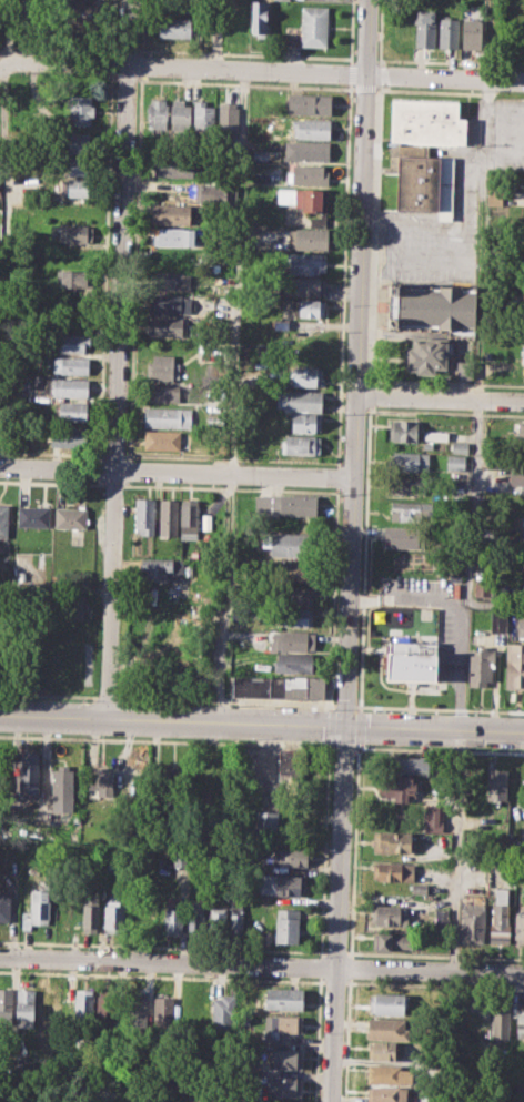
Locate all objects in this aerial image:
building: (259, 18)
building: (314, 26)
building: (175, 27)
building: (425, 28)
road: (381, 32)
building: (449, 32)
building: (472, 32)
road: (261, 70)
road: (382, 74)
building: (309, 103)
building: (81, 110)
building: (157, 113)
building: (180, 113)
building: (203, 114)
building: (228, 117)
building: (311, 128)
building: (81, 143)
building: (306, 150)
building: (260, 153)
building: (424, 153)
building: (174, 165)
building: (81, 166)
building: (309, 174)
building: (75, 188)
building: (494, 196)
building: (311, 199)
building: (171, 213)
road: (376, 232)
building: (72, 233)
building: (174, 236)
building: (308, 236)
building: (305, 263)
road: (238, 271)
building: (72, 279)
building: (171, 280)
building: (308, 285)
building: (170, 302)
building: (306, 307)
building: (165, 325)
building: (437, 325)
building: (74, 342)
building: (522, 354)
road: (117, 360)
road: (353, 363)
building: (70, 365)
building: (162, 367)
building: (303, 375)
building: (69, 386)
building: (161, 392)
road: (372, 394)
road: (437, 398)
building: (300, 400)
building: (73, 411)
road: (445, 412)
building: (167, 417)
building: (304, 423)
building: (404, 429)
building: (520, 429)
building: (435, 435)
building: (70, 436)
building: (161, 439)
building: (300, 444)
building: (458, 446)
building: (492, 459)
building: (410, 461)
building: (455, 463)
road: (175, 471)
building: (517, 477)
road: (51, 482)
road: (112, 484)
building: (410, 485)
road: (335, 494)
building: (284, 504)
building: (409, 510)
building: (33, 516)
building: (144, 516)
building: (70, 517)
building: (170, 517)
building: (2, 519)
building: (190, 519)
building: (206, 522)
building: (518, 522)
road: (472, 527)
building: (405, 537)
building: (523, 539)
building: (288, 544)
road: (365, 558)
building: (164, 568)
building: (293, 572)
building: (454, 576)
building: (523, 583)
building: (483, 587)
road: (56, 589)
building: (291, 596)
road: (225, 597)
building: (73, 605)
road: (457, 614)
building: (292, 617)
building: (497, 621)
building: (520, 626)
building: (293, 640)
building: (412, 660)
building: (294, 663)
building: (514, 666)
building: (480, 667)
building: (280, 687)
road: (49, 694)
road: (108, 697)
road: (226, 700)
road: (345, 705)
road: (439, 708)
road: (171, 721)
road: (329, 725)
road: (360, 726)
road: (433, 731)
road: (167, 739)
road: (342, 746)
road: (437, 749)
building: (407, 765)
building: (289, 769)
building: (27, 776)
building: (100, 782)
building: (62, 783)
building: (172, 783)
building: (496, 783)
building: (311, 788)
building: (399, 788)
building: (433, 817)
building: (265, 819)
building: (392, 840)
road: (324, 849)
road: (355, 850)
building: (289, 857)
building: (393, 870)
building: (477, 877)
road: (456, 883)
building: (282, 884)
building: (4, 906)
building: (37, 909)
building: (90, 912)
road: (336, 914)
building: (387, 914)
building: (114, 917)
building: (174, 918)
building: (236, 918)
building: (500, 918)
building: (196, 919)
building: (441, 920)
building: (472, 920)
building: (218, 922)
building: (285, 926)
building: (518, 926)
building: (390, 940)
road: (261, 964)
road: (320, 965)
road: (351, 967)
building: (283, 998)
building: (389, 1003)
building: (6, 1004)
building: (82, 1005)
building: (42, 1007)
building: (107, 1007)
building: (24, 1008)
building: (135, 1008)
building: (162, 1009)
building: (223, 1013)
building: (500, 1019)
building: (520, 1021)
building: (284, 1025)
building: (387, 1028)
road: (316, 1039)
road: (347, 1040)
building: (382, 1051)
building: (284, 1058)
building: (387, 1073)
building: (513, 1084)
building: (284, 1085)
building: (387, 1094)
building: (281, 1101)

